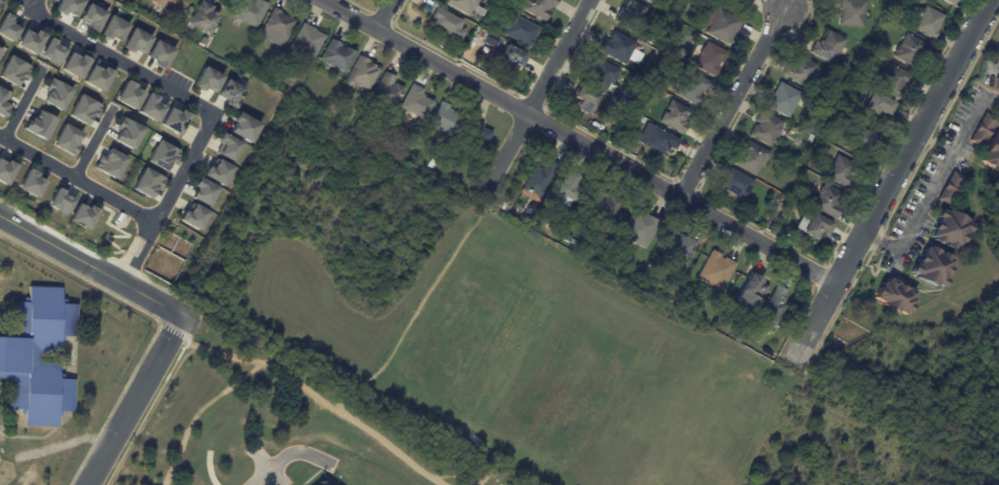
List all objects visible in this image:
building: (654, 0)
building: (736, 0)
building: (650, 1)
building: (947, 1)
road: (31, 5)
building: (164, 5)
building: (465, 6)
building: (68, 7)
building: (537, 8)
building: (248, 11)
building: (850, 13)
building: (630, 14)
road: (384, 15)
building: (92, 17)
building: (202, 17)
building: (926, 21)
building: (446, 24)
building: (719, 25)
building: (275, 26)
building: (8, 27)
building: (113, 28)
building: (518, 30)
building: (29, 40)
building: (136, 41)
building: (304, 42)
building: (826, 47)
building: (620, 48)
building: (908, 48)
building: (0, 51)
building: (52, 51)
building: (159, 54)
building: (335, 55)
building: (510, 57)
building: (709, 58)
building: (998, 60)
road: (123, 62)
building: (74, 65)
building: (800, 68)
building: (13, 70)
building: (599, 72)
building: (360, 73)
building: (97, 77)
building: (206, 80)
building: (893, 82)
building: (995, 85)
building: (691, 86)
building: (387, 90)
building: (230, 92)
building: (56, 94)
building: (128, 95)
road: (536, 96)
building: (583, 99)
building: (782, 99)
building: (413, 100)
building: (3, 102)
building: (875, 103)
road: (23, 104)
road: (735, 104)
building: (150, 107)
building: (83, 109)
building: (441, 116)
building: (674, 116)
building: (173, 120)
building: (39, 124)
building: (242, 127)
building: (765, 128)
building: (981, 130)
building: (471, 131)
building: (126, 133)
building: (656, 139)
building: (856, 139)
building: (66, 140)
road: (579, 141)
road: (93, 143)
building: (226, 147)
building: (992, 151)
building: (162, 155)
building: (750, 157)
building: (109, 163)
road: (945, 169)
building: (837, 170)
building: (5, 171)
building: (216, 171)
building: (538, 175)
road: (180, 176)
road: (77, 179)
building: (147, 182)
road: (893, 182)
building: (30, 183)
building: (734, 183)
building: (564, 187)
building: (949, 187)
building: (202, 192)
building: (58, 202)
building: (825, 202)
building: (600, 204)
building: (82, 216)
building: (192, 216)
building: (812, 226)
building: (638, 227)
building: (948, 230)
road: (876, 240)
building: (674, 249)
road: (894, 249)
road: (134, 261)
road: (92, 266)
building: (930, 266)
building: (714, 270)
building: (748, 293)
building: (892, 296)
building: (771, 305)
road: (414, 315)
park: (466, 331)
road: (216, 352)
building: (37, 357)
park: (479, 362)
road: (287, 374)
park: (563, 386)
road: (138, 401)
park: (689, 419)
road: (65, 444)
road: (491, 475)
road: (265, 477)

